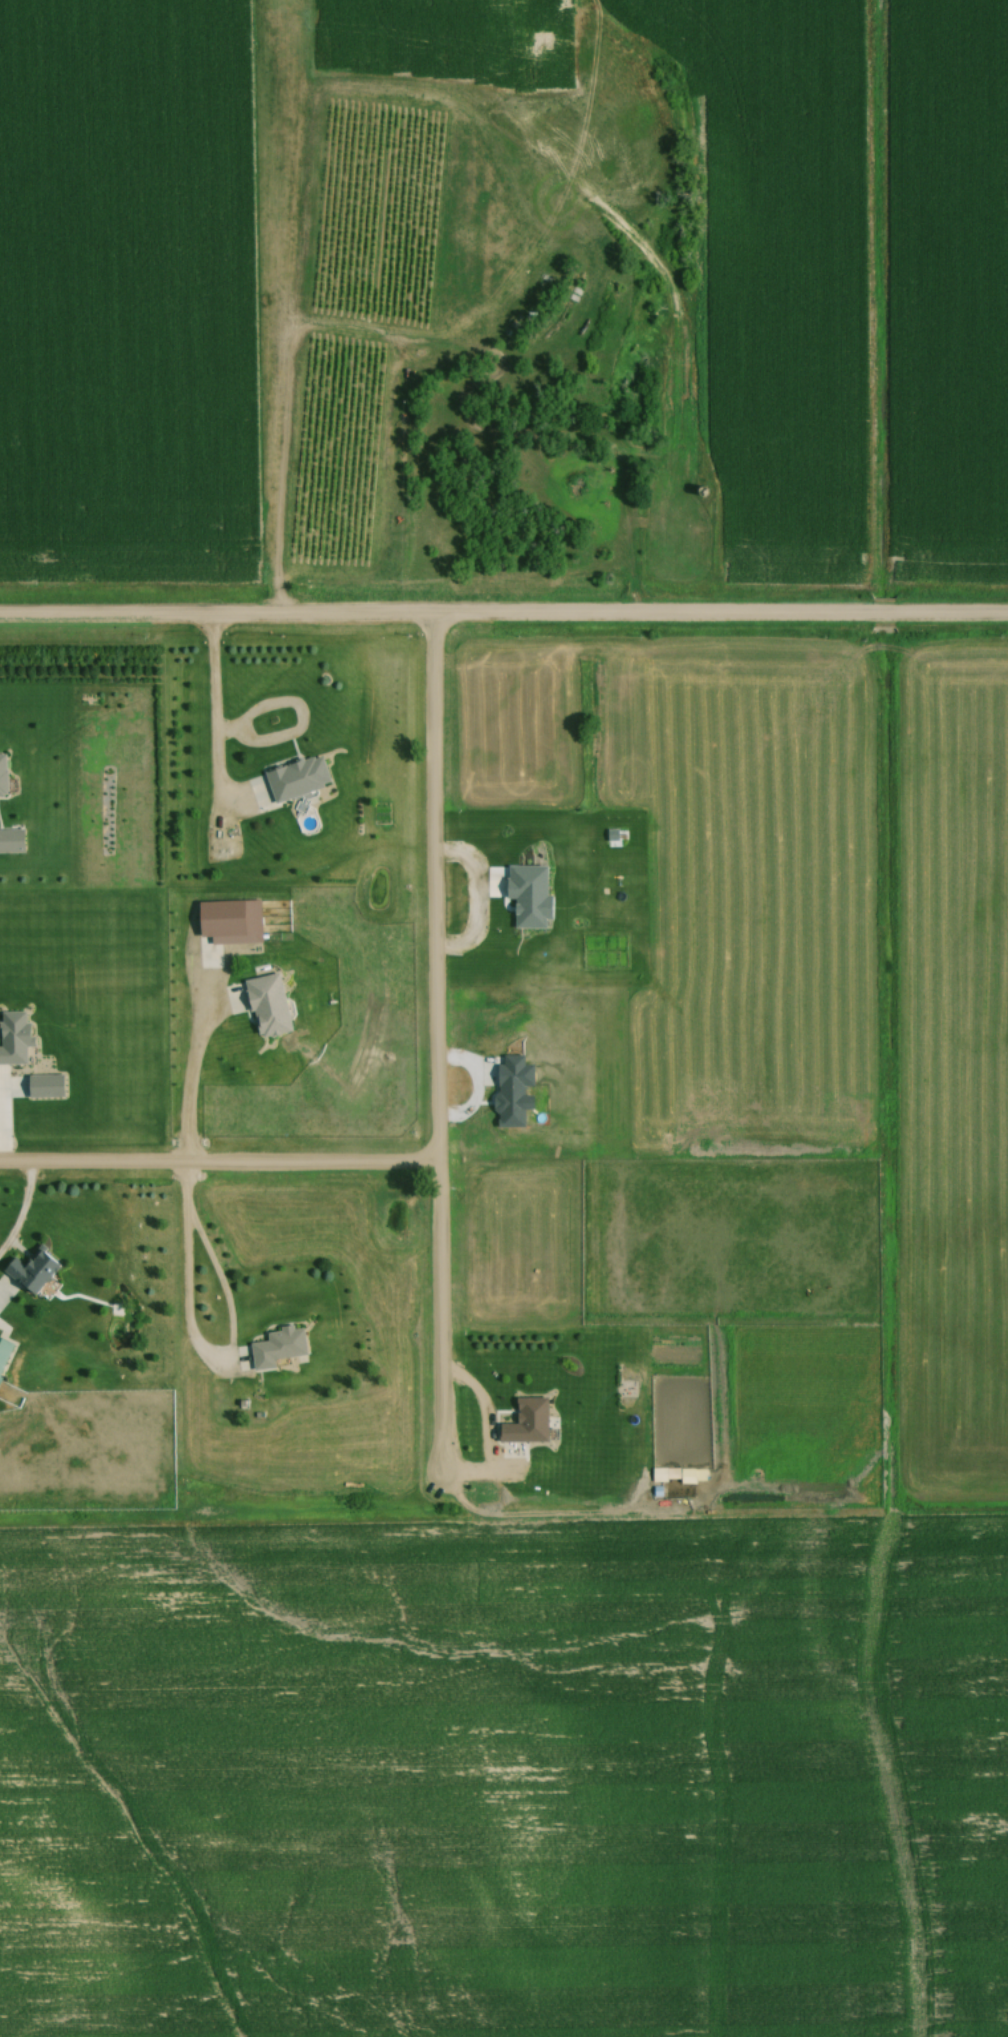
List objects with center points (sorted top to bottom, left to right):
road: (504, 616)
building: (2, 776)
building: (296, 778)
building: (10, 841)
building: (266, 1006)
road: (434, 1052)
road: (218, 1164)
building: (32, 1272)
building: (276, 1348)
building: (4, 1352)
building: (526, 1422)
building: (658, 1475)

